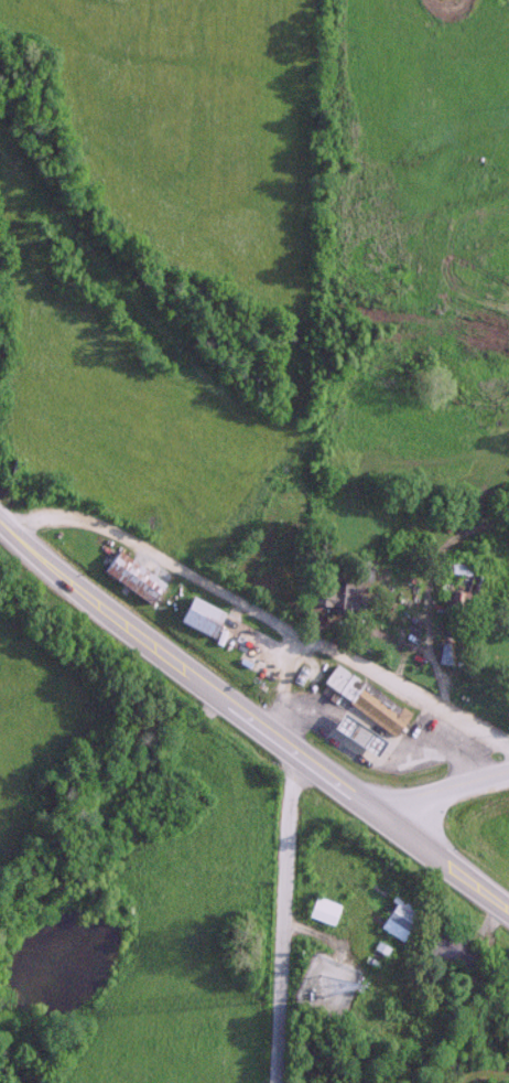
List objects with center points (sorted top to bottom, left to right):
building: (132, 577)
building: (458, 588)
building: (333, 591)
road: (260, 614)
building: (199, 615)
road: (186, 672)
road: (443, 793)
road: (444, 864)
building: (323, 910)
road: (280, 918)
building: (399, 918)
building: (452, 948)

